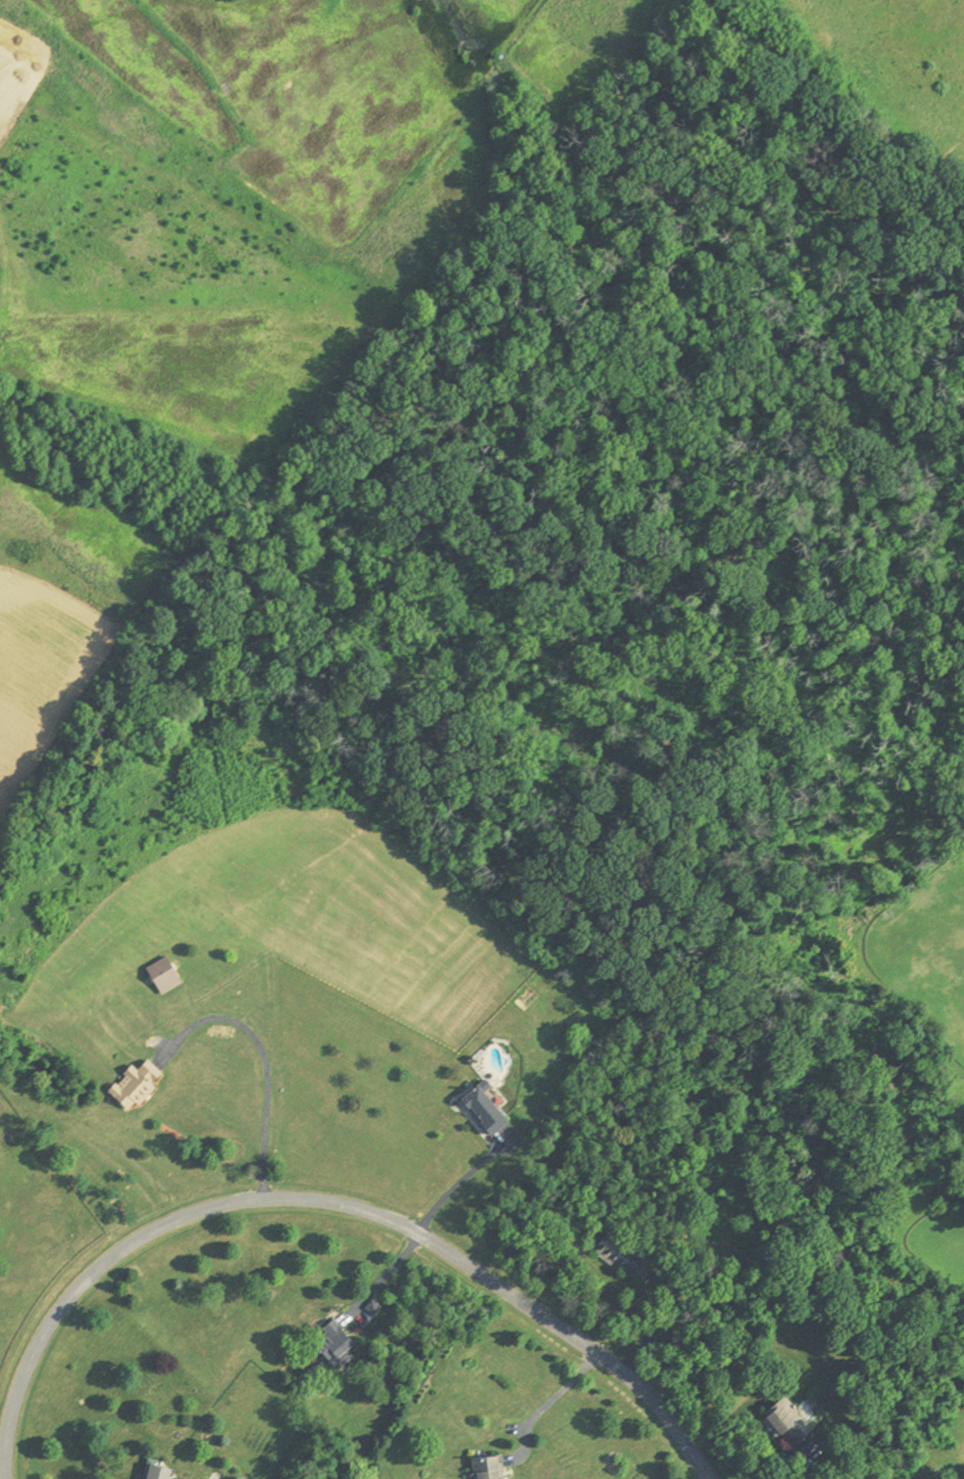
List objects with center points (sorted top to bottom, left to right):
crop: (899, 56)
crop: (42, 658)
building: (172, 975)
road: (266, 1065)
building: (135, 1084)
building: (484, 1108)
road: (457, 1189)
road: (328, 1203)
building: (624, 1255)
road: (389, 1272)
road: (652, 1330)
building: (334, 1341)
road: (564, 1393)
building: (787, 1419)
road: (806, 1464)
building: (487, 1467)
building: (158, 1472)

